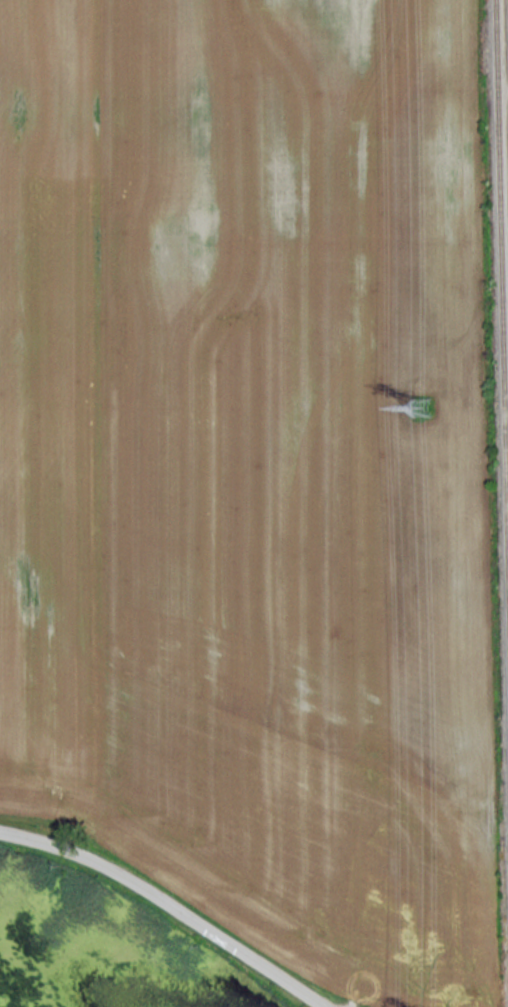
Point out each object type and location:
railway: (505, 110)
railway: (501, 313)
power tower: (422, 403)
crop: (257, 468)
road: (170, 904)

